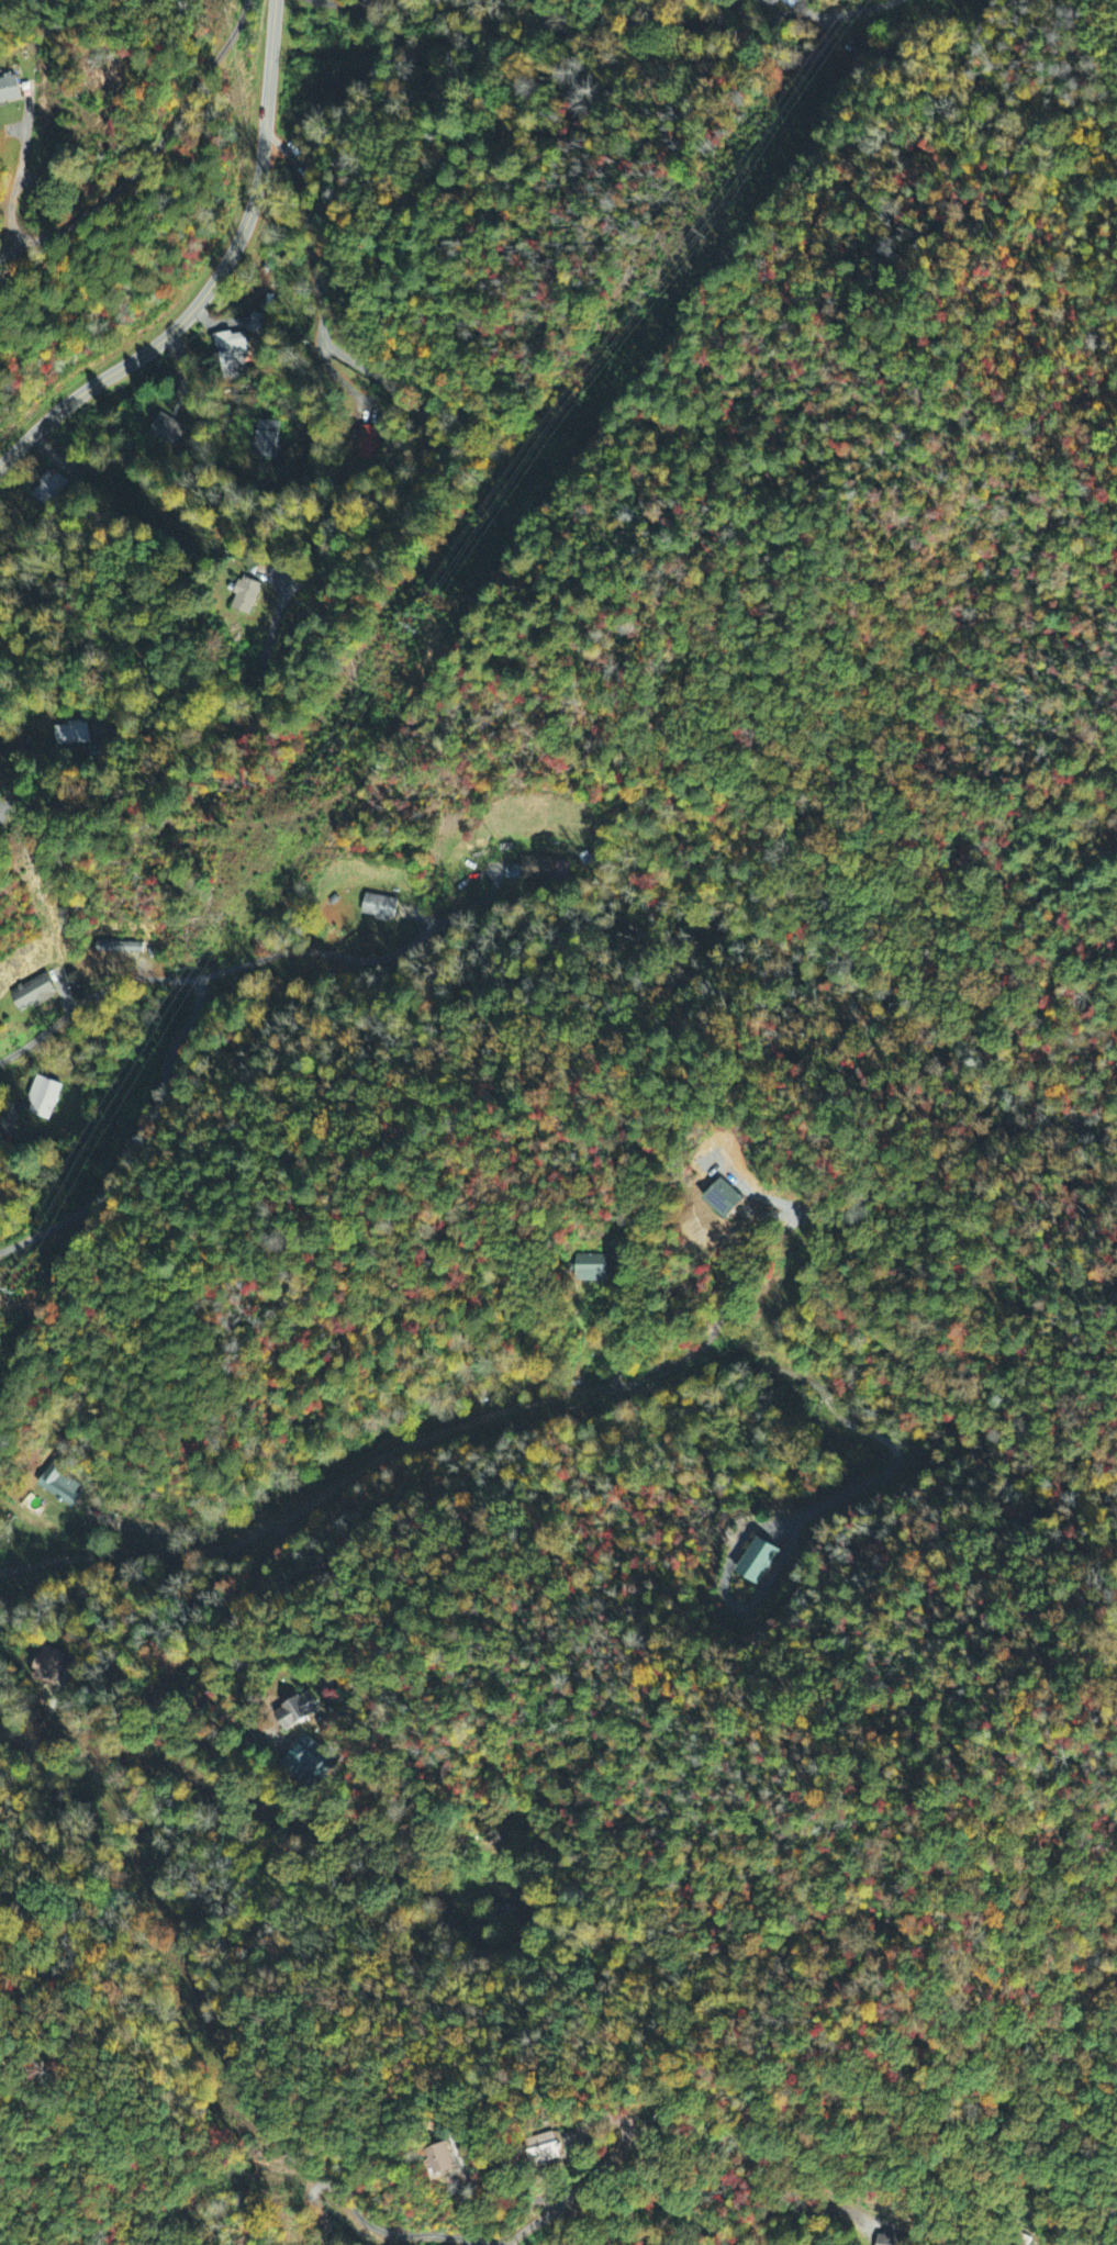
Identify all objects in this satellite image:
building: (768, 4)
building: (9, 87)
road: (530, 104)
road: (26, 120)
road: (130, 179)
power tower: (702, 225)
road: (13, 250)
road: (216, 278)
building: (231, 356)
road: (426, 428)
building: (167, 432)
building: (266, 440)
building: (369, 444)
building: (48, 490)
building: (246, 596)
power tower: (411, 618)
building: (72, 735)
building: (539, 870)
road: (477, 904)
building: (379, 908)
building: (119, 948)
road: (216, 972)
building: (33, 994)
building: (43, 1098)
building: (724, 1199)
building: (591, 1269)
power tower: (13, 1285)
road: (625, 1317)
road: (416, 1443)
building: (58, 1483)
building: (757, 1562)
building: (48, 1667)
building: (297, 1712)
building: (306, 1763)
road: (214, 1827)
building: (545, 2147)
road: (611, 2158)
building: (440, 2160)
road: (982, 2214)
road: (409, 2234)
building: (889, 2240)

